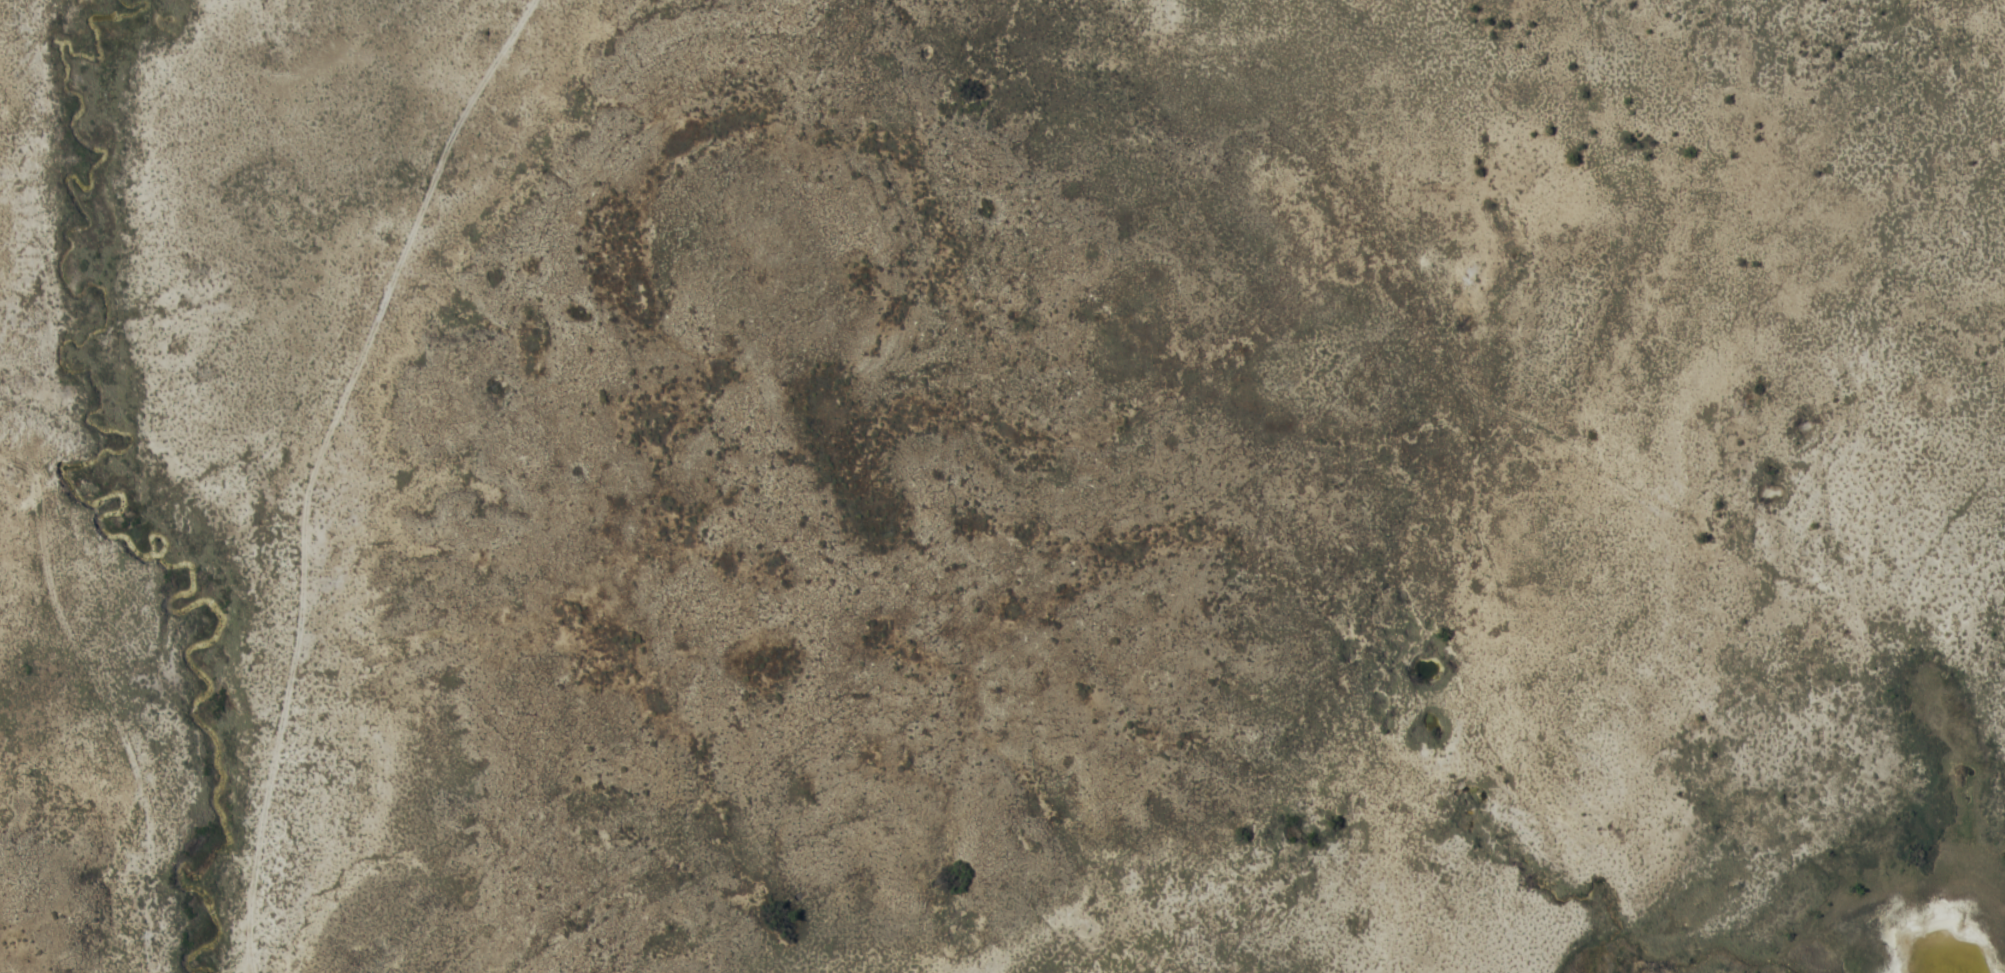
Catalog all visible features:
river: (94, 463)
road: (314, 464)

